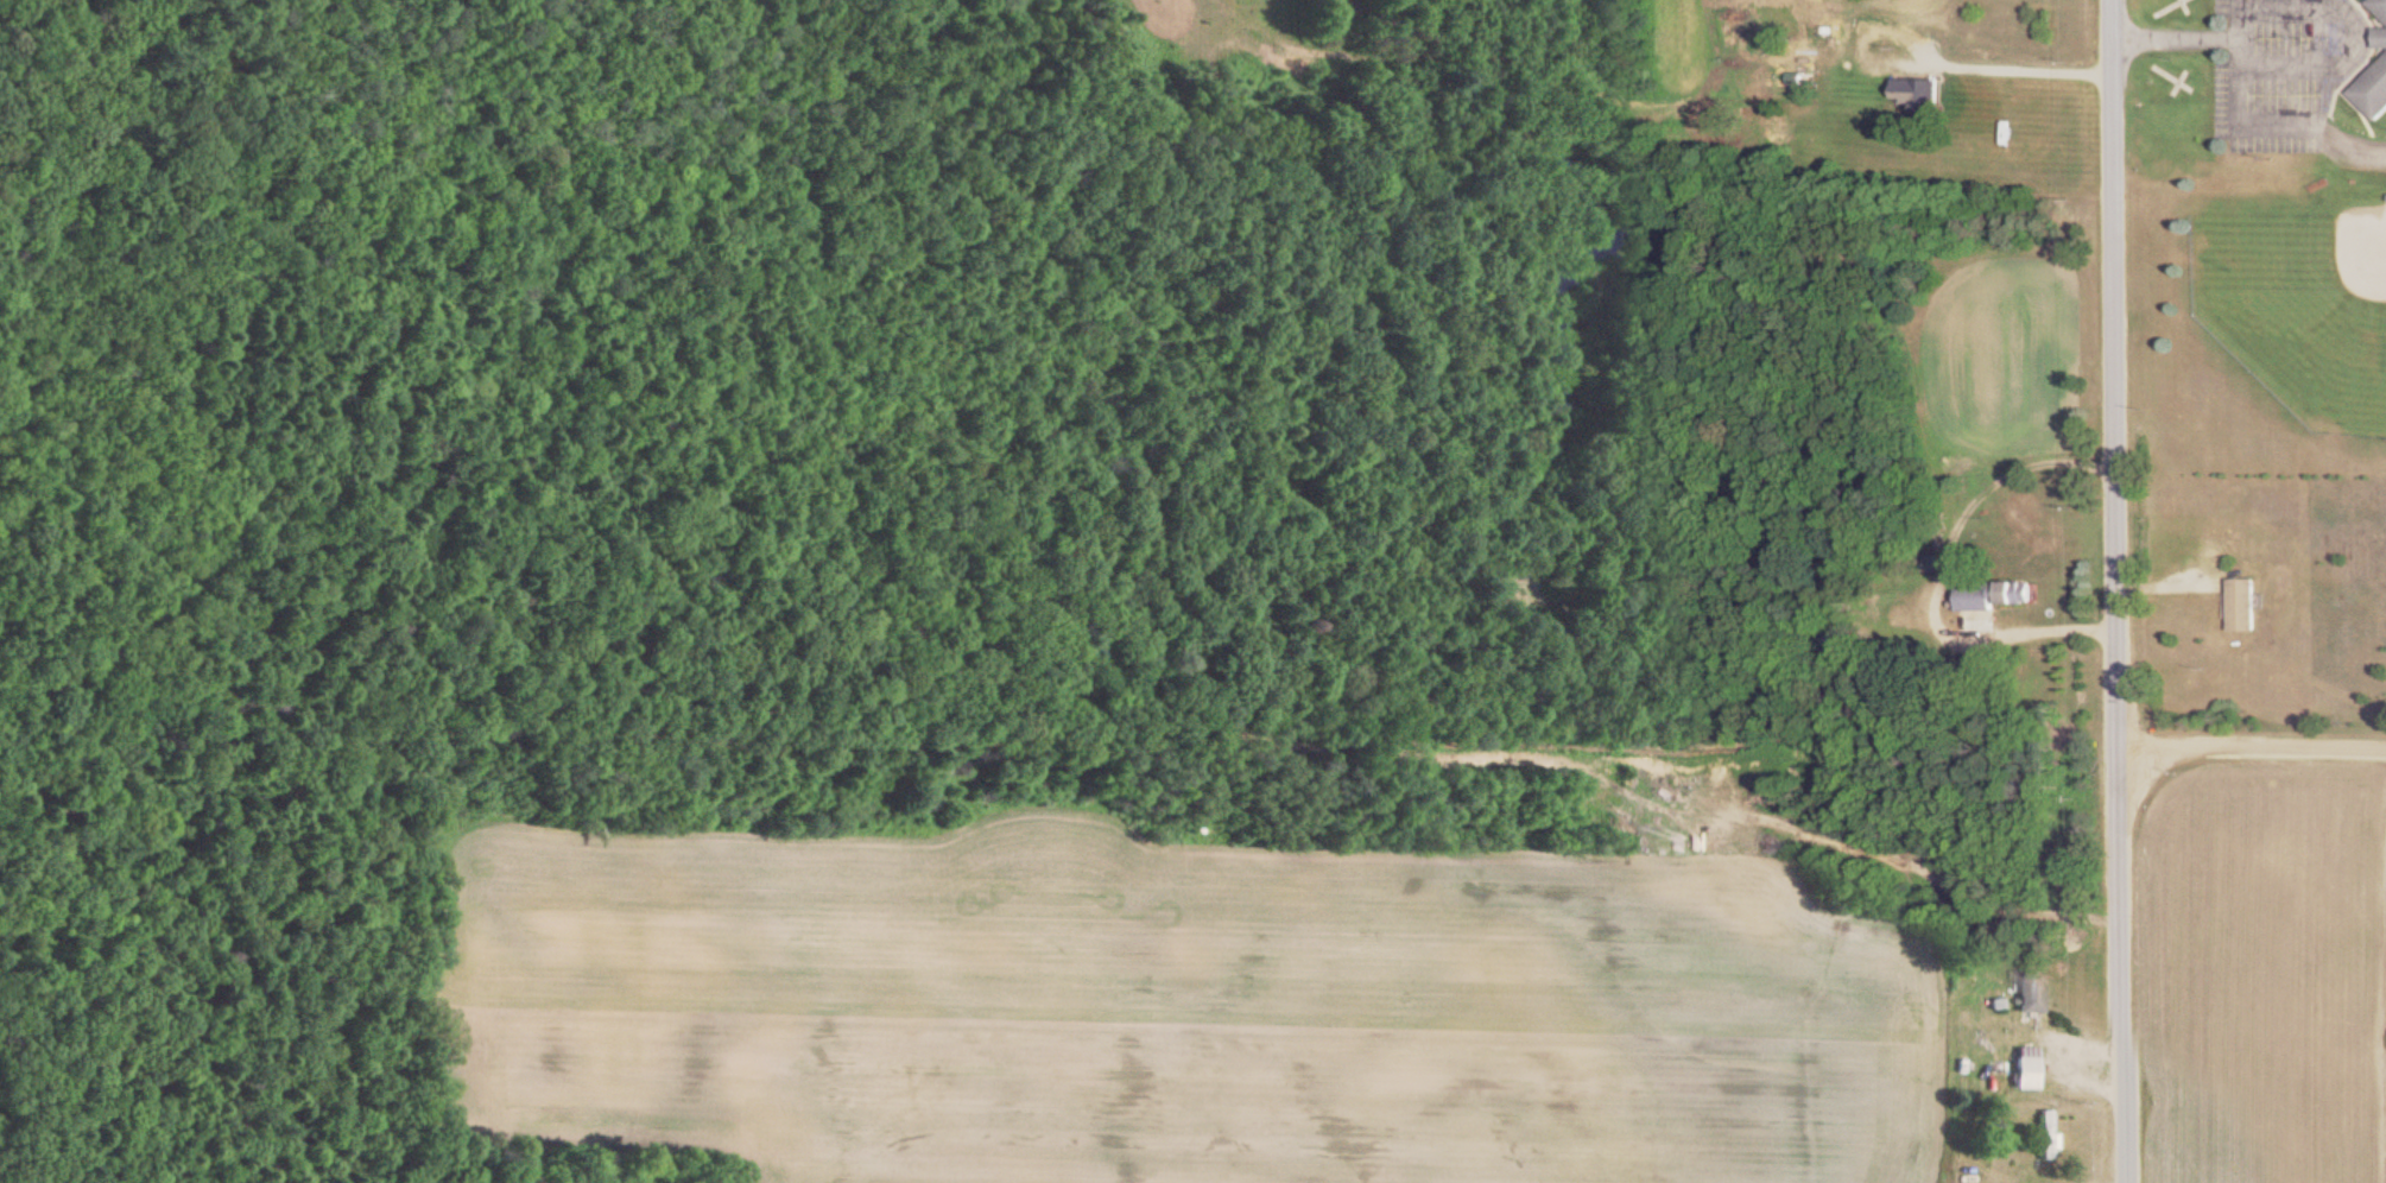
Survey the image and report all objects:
building: (2379, 8)
road: (2302, 12)
building: (2381, 42)
road: (1899, 65)
building: (1918, 95)
building: (2373, 95)
road: (2287, 126)
road: (2101, 591)
building: (1994, 599)
building: (2243, 609)
road: (2032, 634)
building: (1836, 646)
road: (2243, 729)
building: (2029, 995)
building: (2024, 1076)
building: (2045, 1137)

